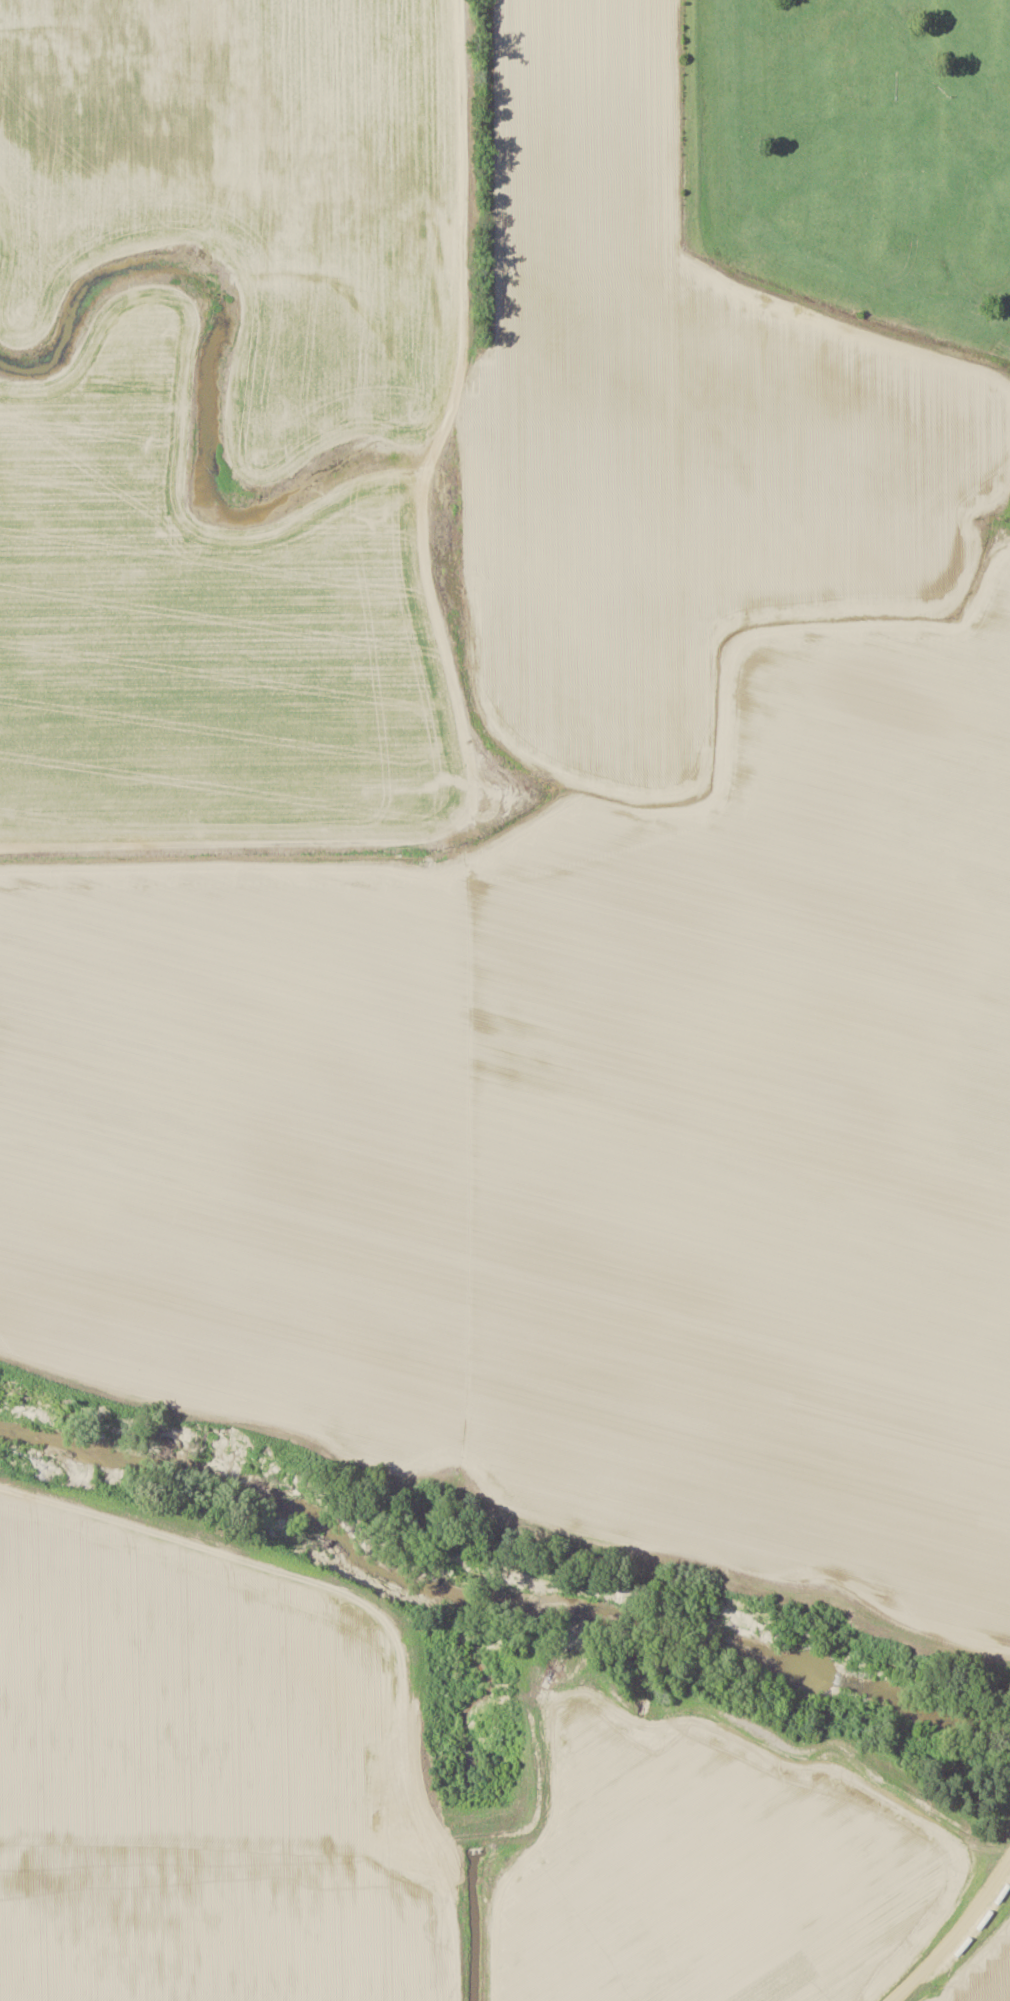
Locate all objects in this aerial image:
road: (936, 1938)
road: (7, 1988)

